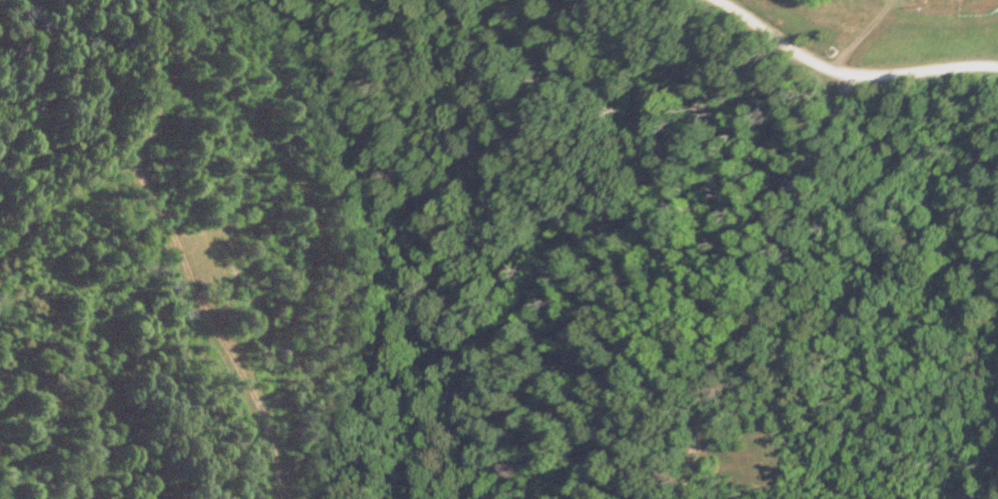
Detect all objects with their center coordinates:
road: (850, 71)
road: (774, 285)
road: (970, 486)

